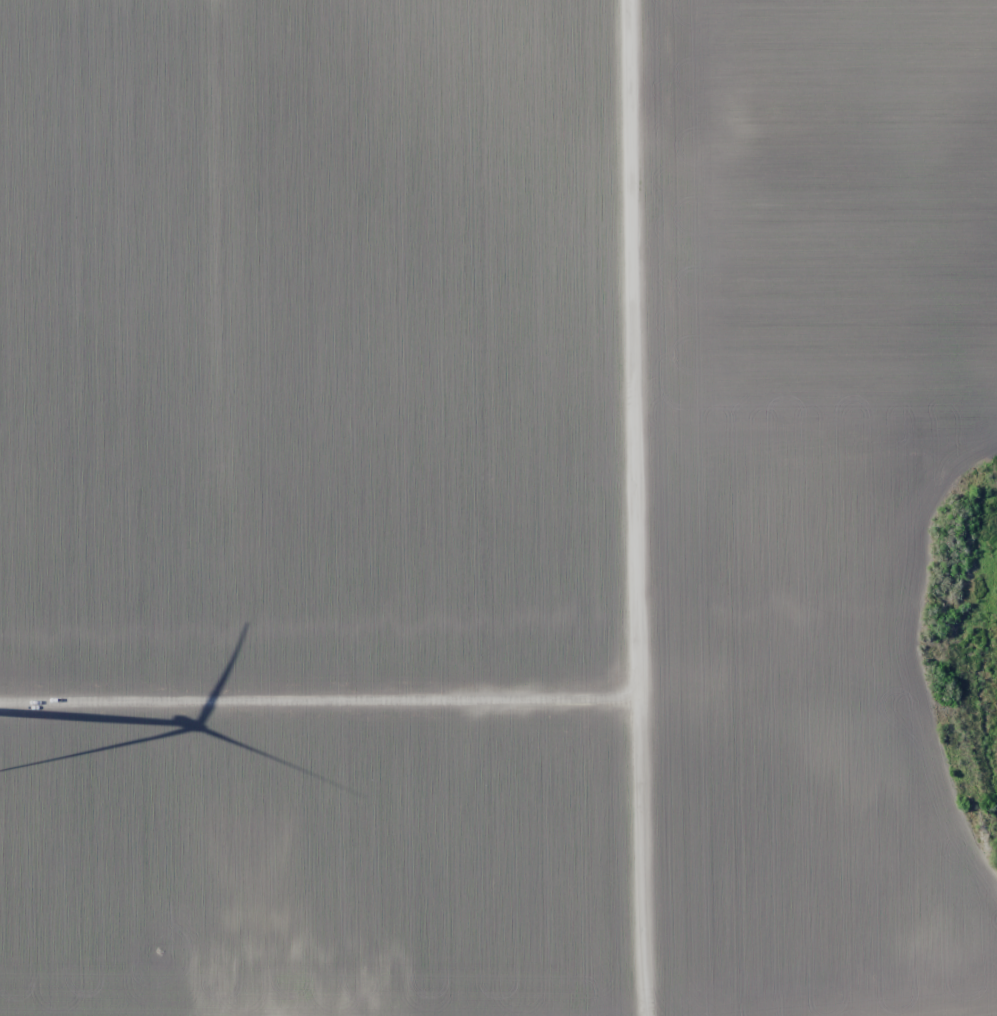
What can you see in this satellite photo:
road: (619, 508)

